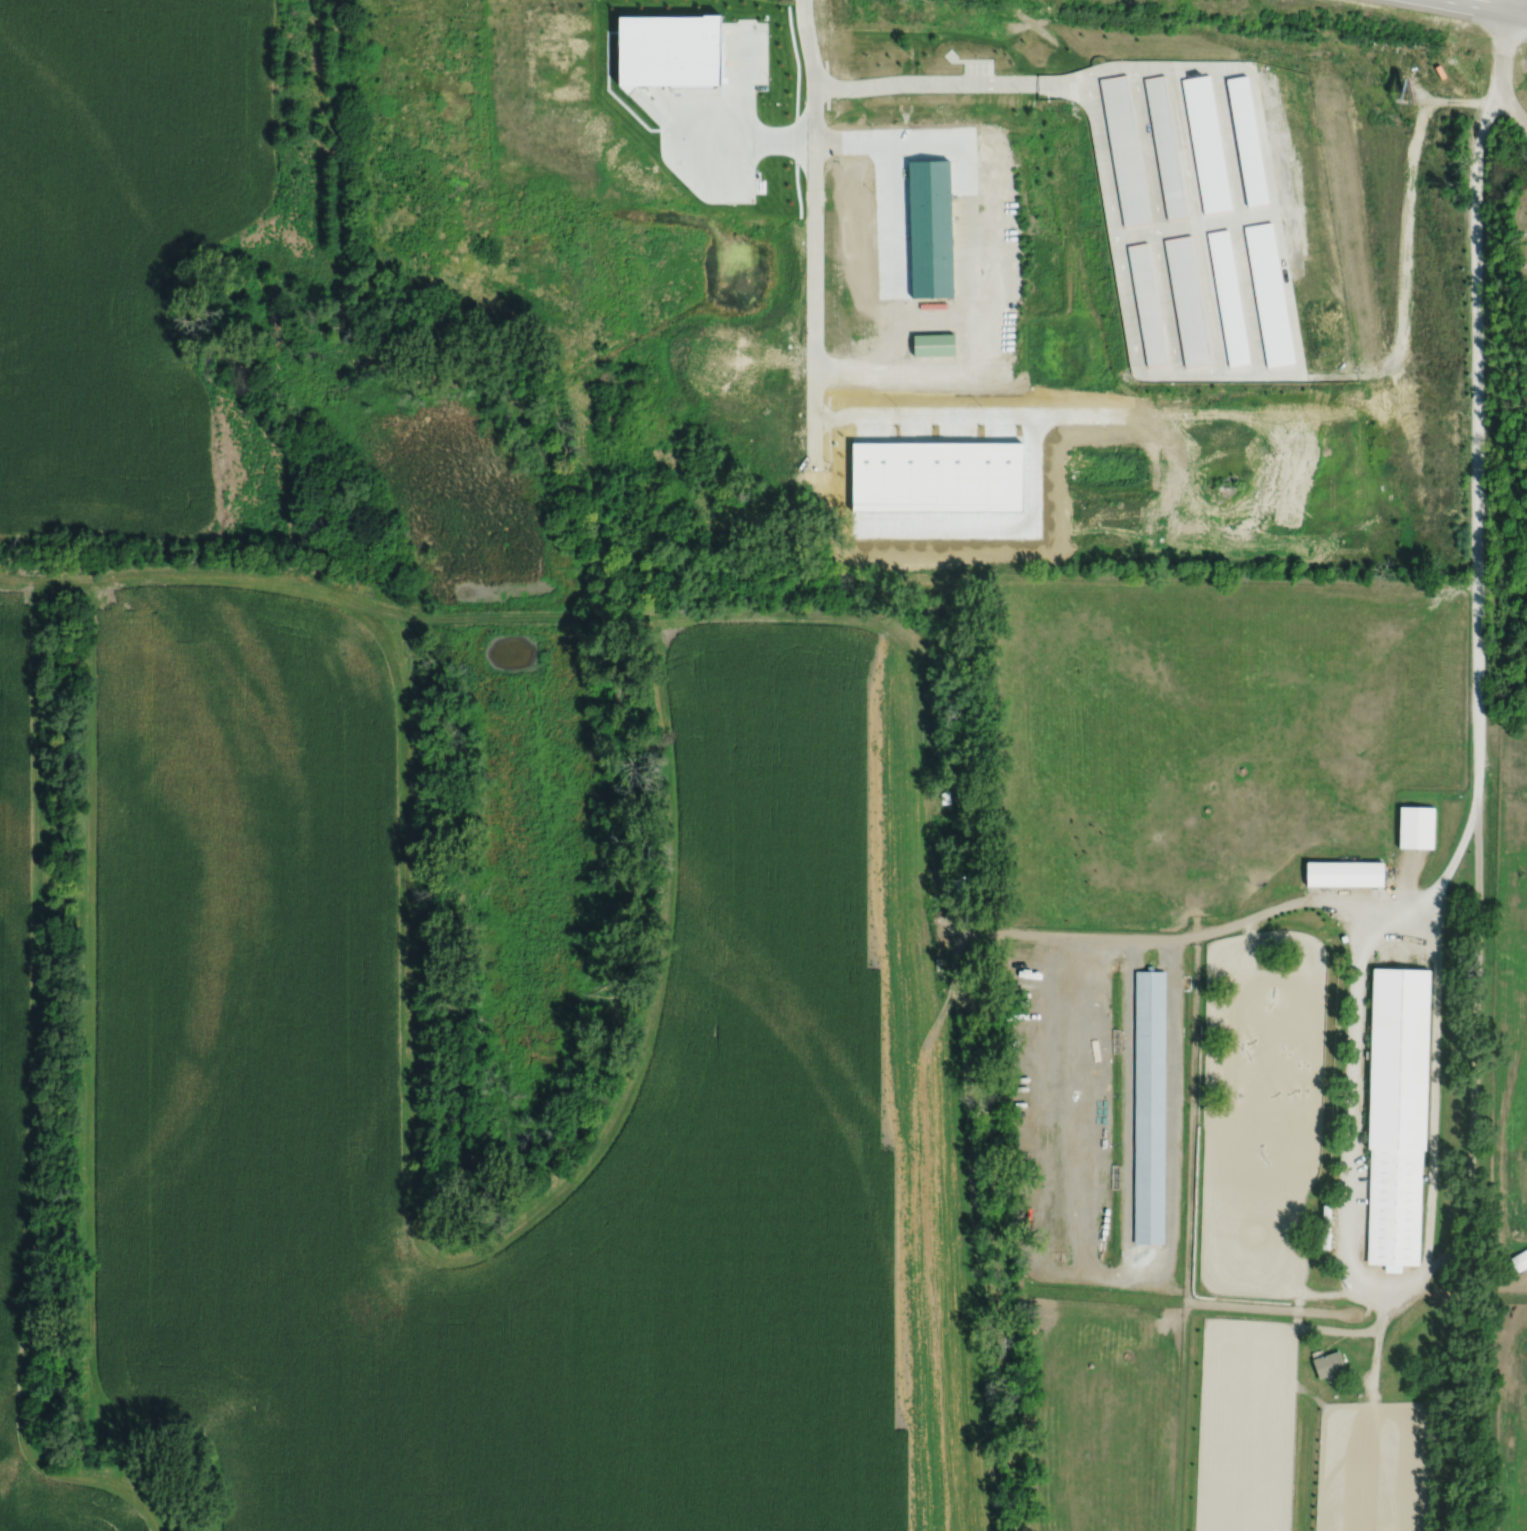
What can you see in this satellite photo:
road: (1483, 8)
road: (1505, 43)
road: (1044, 83)
road: (919, 85)
road: (1512, 107)
building: (1246, 141)
building: (1206, 143)
building: (1166, 147)
building: (1125, 150)
road: (814, 227)
building: (929, 229)
road: (1137, 233)
building: (853, 235)
park: (1520, 241)
road: (974, 260)
building: (1268, 294)
building: (1227, 296)
building: (1186, 302)
building: (1147, 305)
building: (932, 345)
road: (1175, 357)
building: (937, 477)
building: (1416, 827)
building: (1343, 874)
road: (1404, 911)
road: (1475, 1047)
building: (1397, 1058)
building: (1148, 1107)
road: (1126, 1141)
building: (1394, 1205)
building: (1519, 1259)
road: (1297, 1318)
road: (1378, 1341)
building: (1327, 1363)
road: (1468, 1381)

